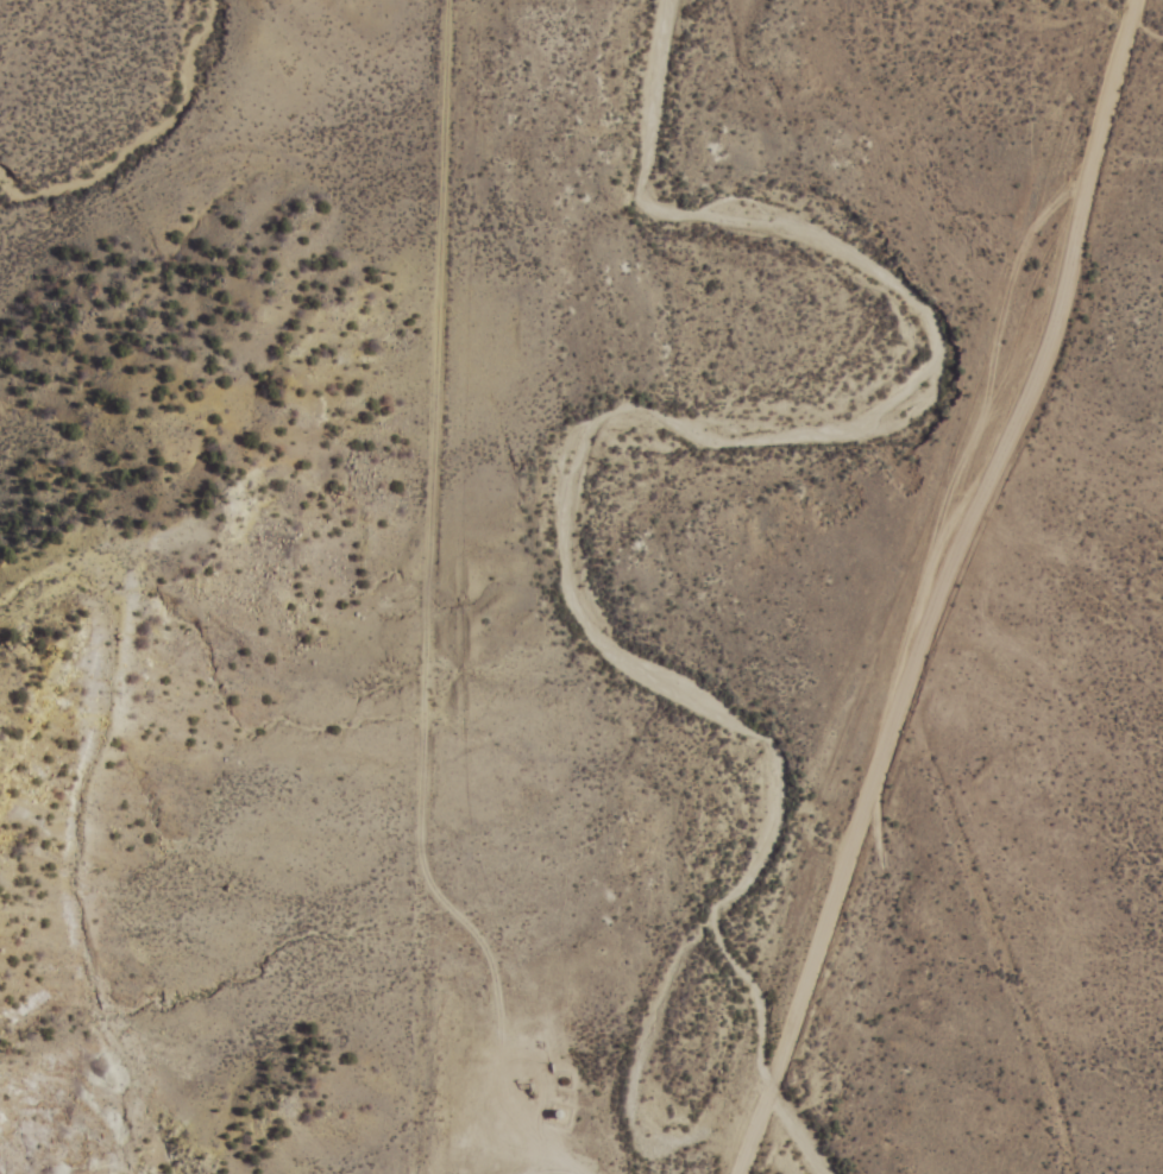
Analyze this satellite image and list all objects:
river: (561, 512)
road: (942, 586)
road: (416, 587)
road: (106, 831)
road: (992, 943)

